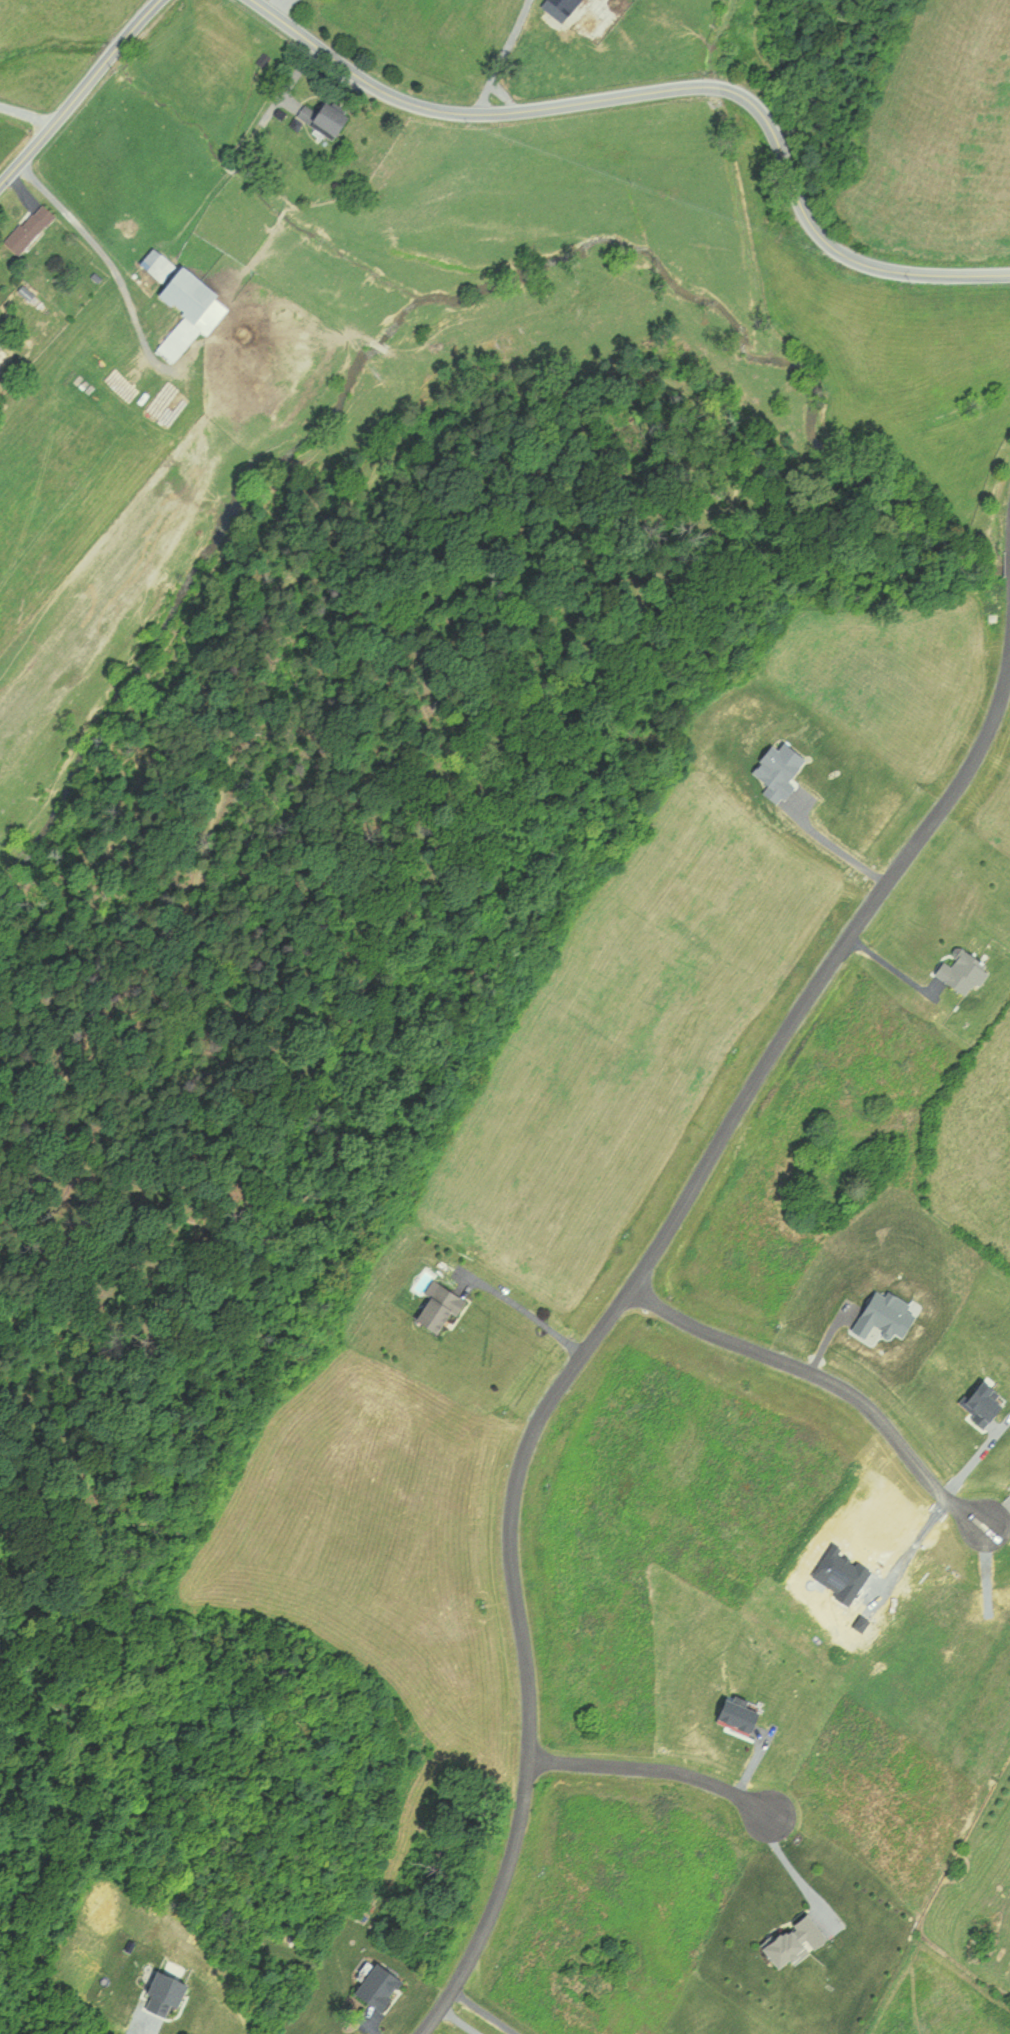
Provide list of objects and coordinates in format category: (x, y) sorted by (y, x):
road: (500, 57)
road: (665, 89)
road: (80, 92)
road: (482, 94)
road: (27, 115)
building: (330, 119)
building: (32, 229)
road: (100, 254)
building: (167, 268)
building: (195, 310)
road: (836, 846)
road: (891, 967)
building: (443, 1307)
road: (527, 1310)
road: (611, 1315)
road: (828, 1379)
road: (652, 1768)
road: (791, 1866)
road: (459, 2020)
road: (145, 2030)

